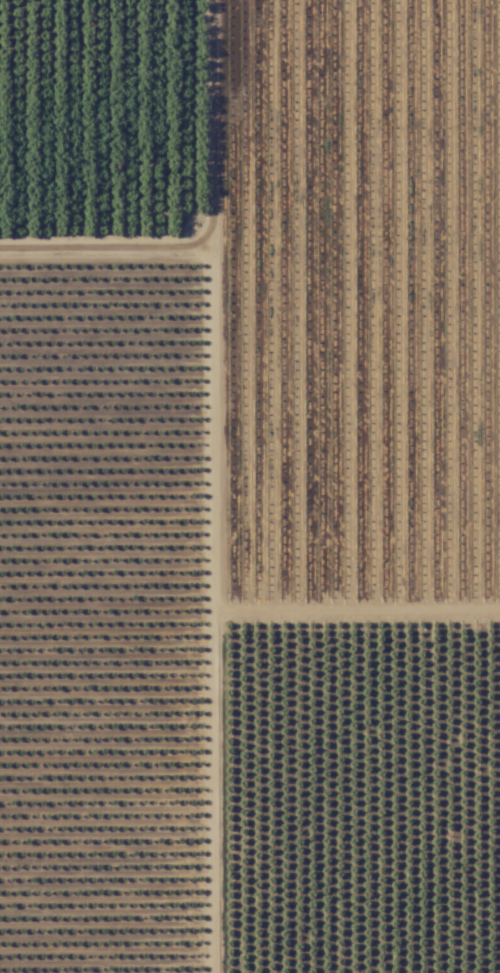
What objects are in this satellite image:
road: (215, 227)

